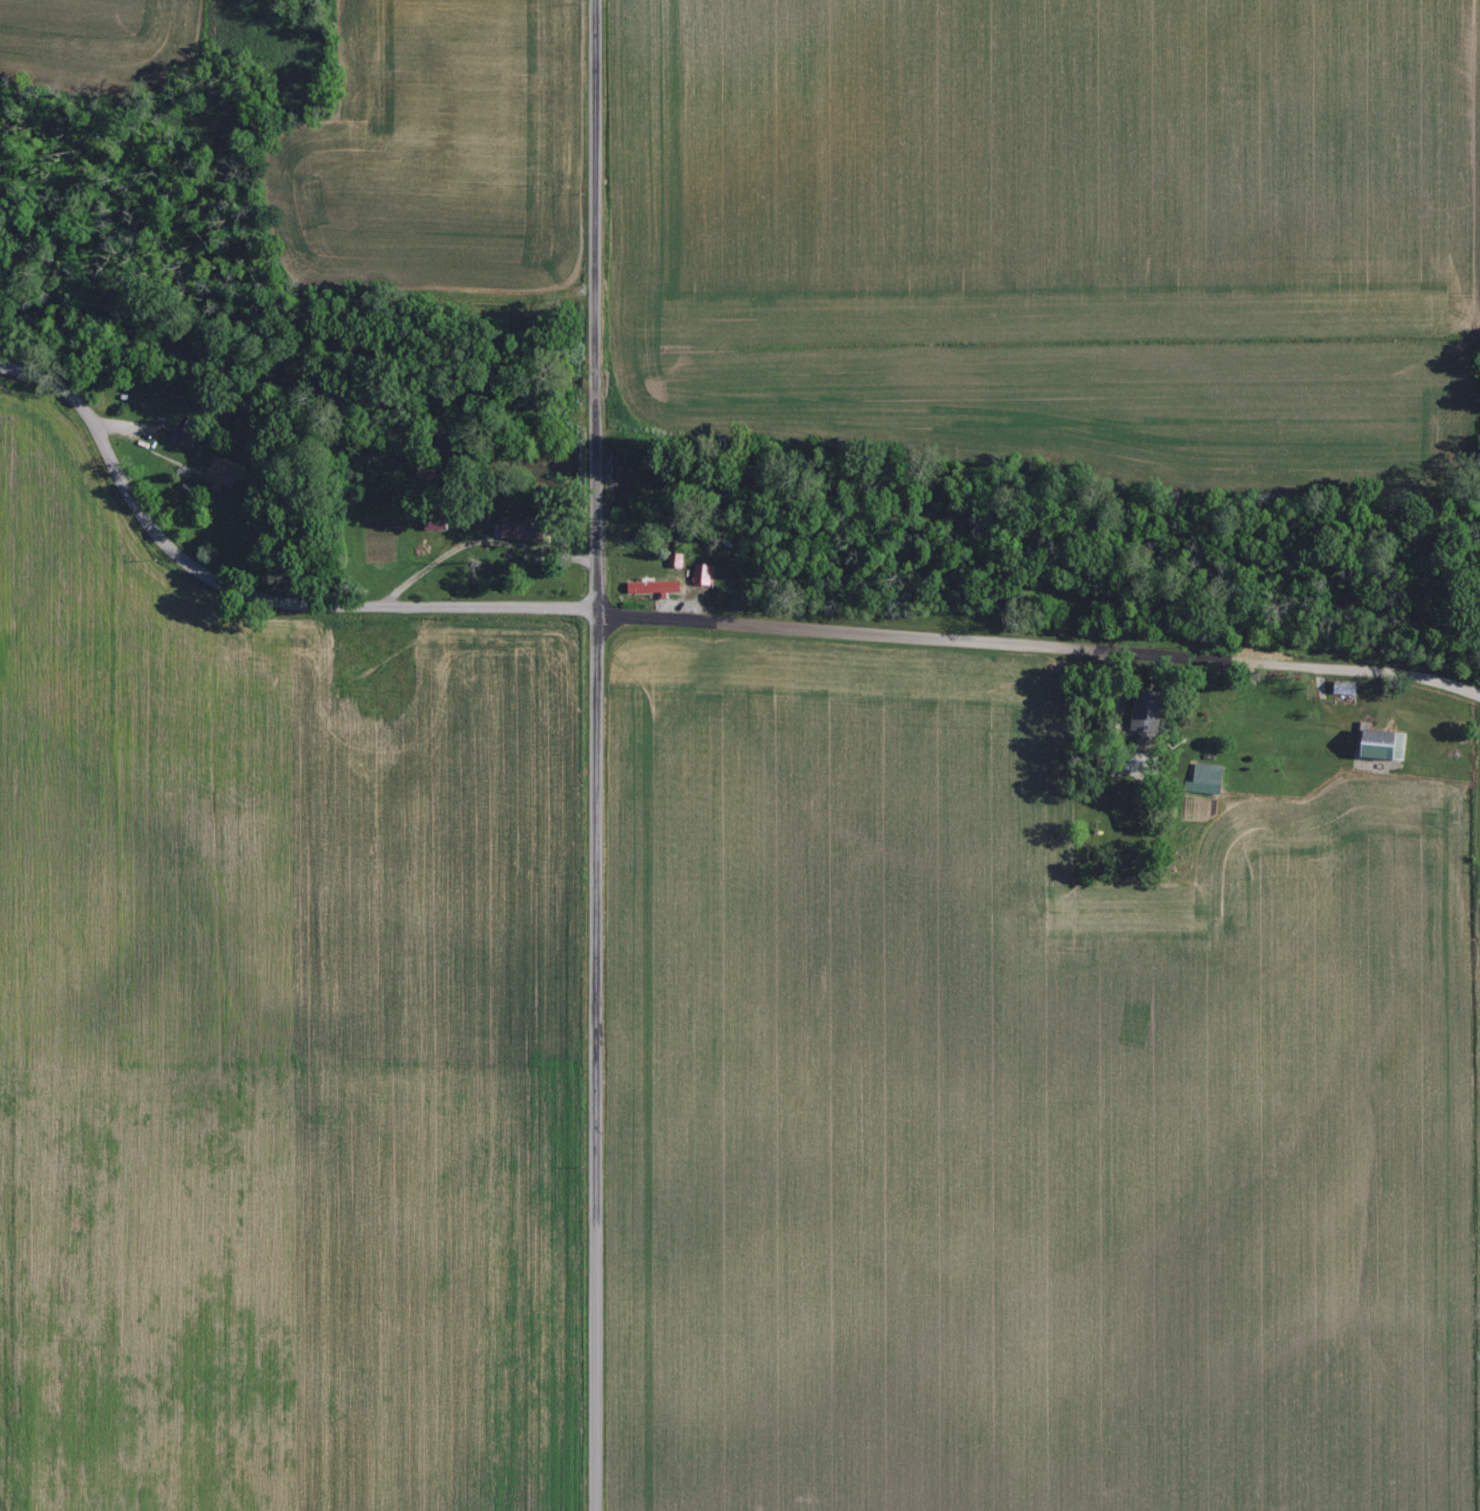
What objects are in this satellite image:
road: (594, 221)
building: (189, 434)
river: (732, 456)
building: (225, 472)
road: (595, 477)
building: (526, 528)
building: (704, 572)
building: (657, 585)
road: (245, 593)
road: (1039, 645)
building: (1208, 774)
road: (595, 1010)

